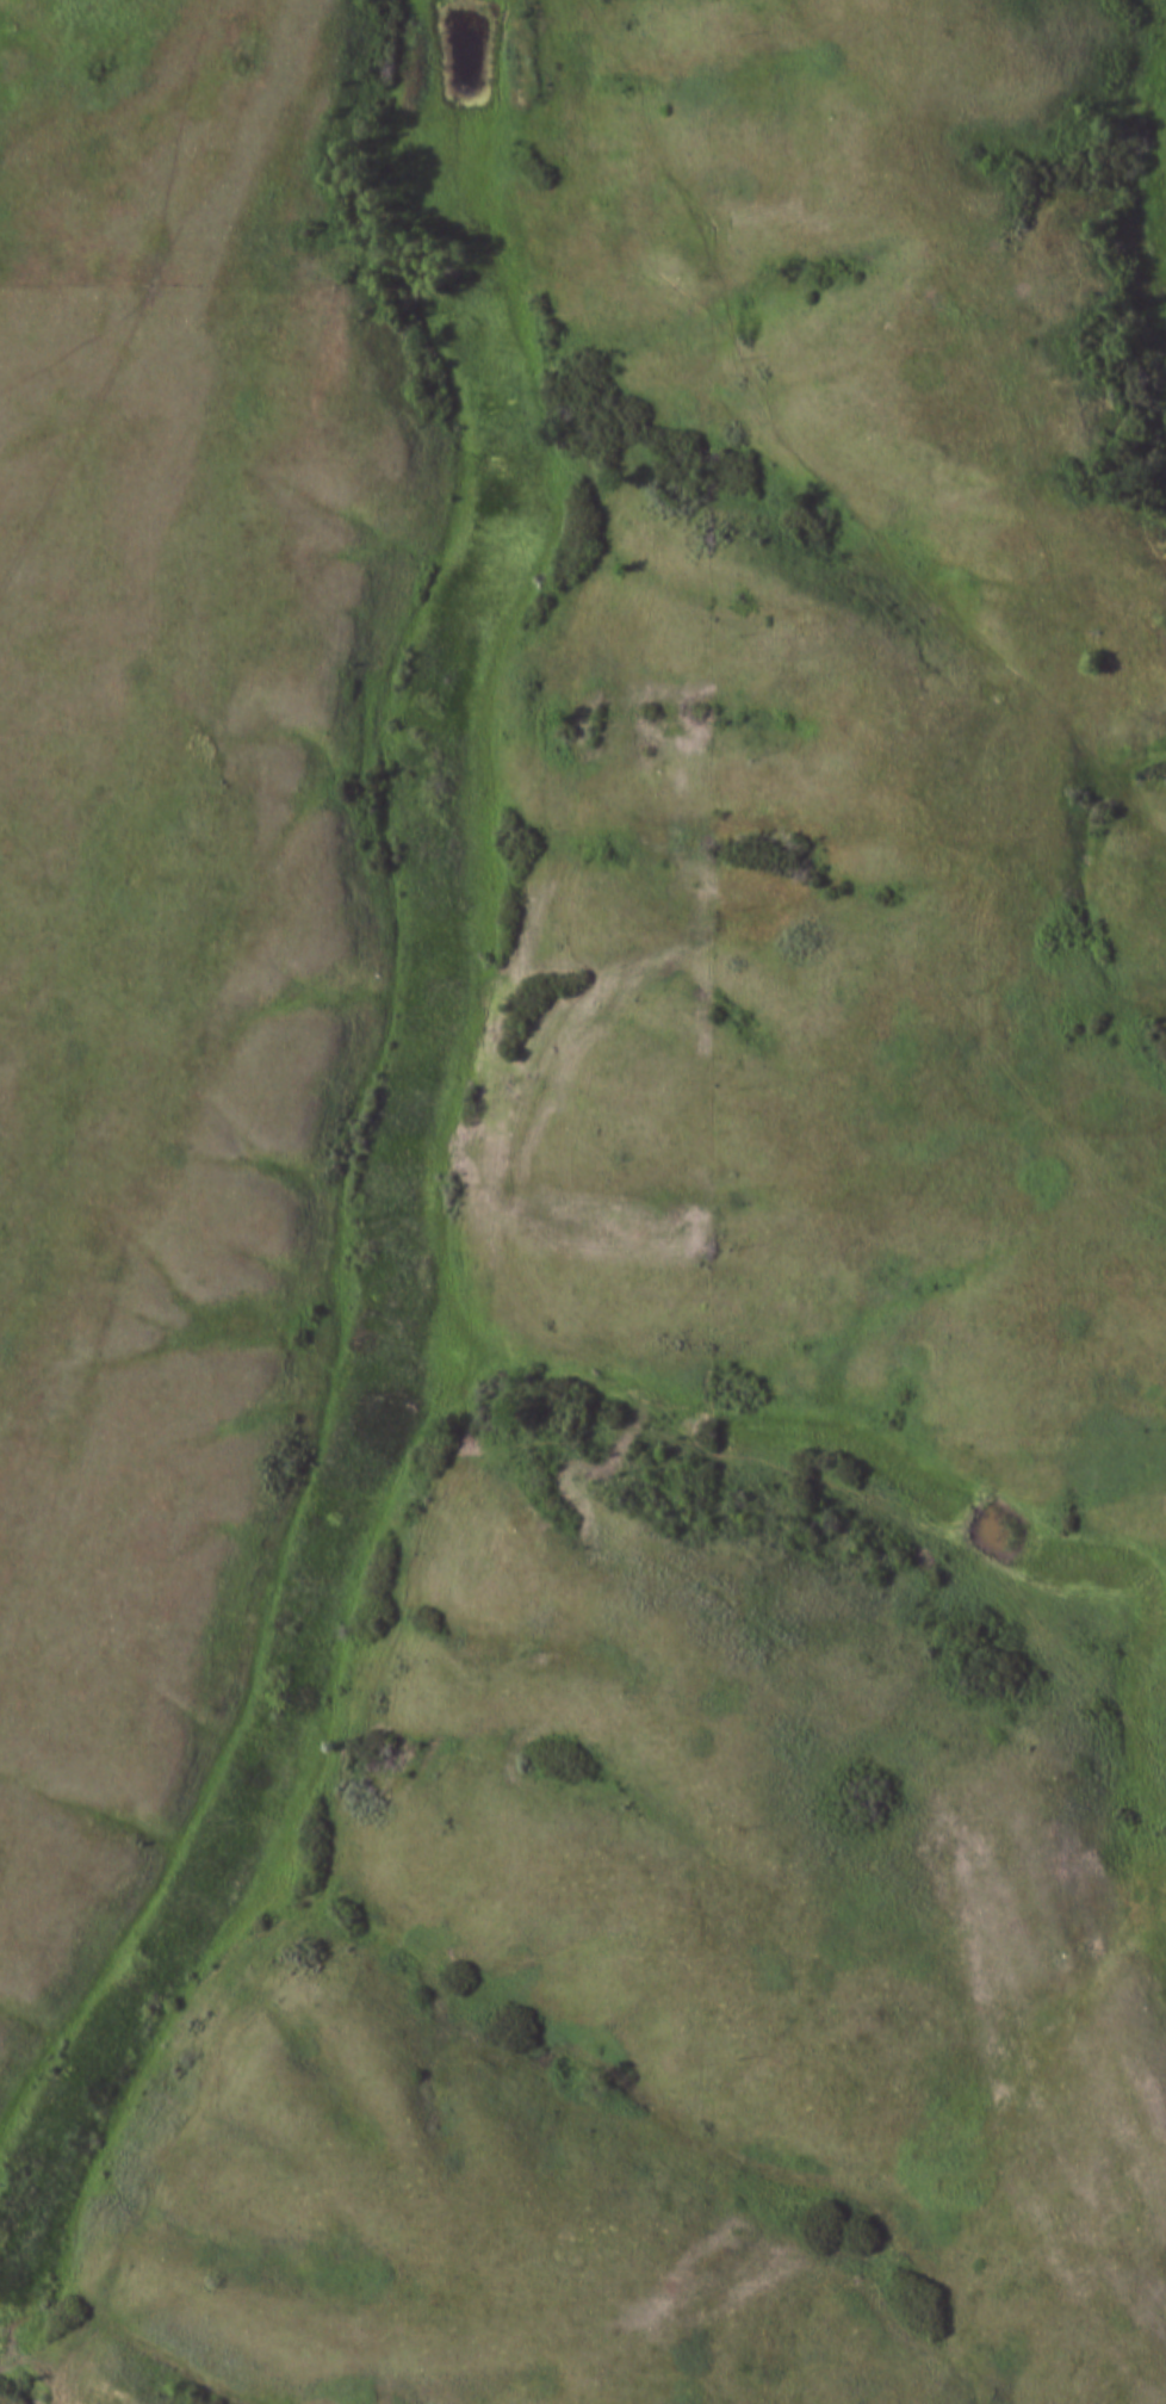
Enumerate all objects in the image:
dam: (10, 2397)
road: (10, 2397)

